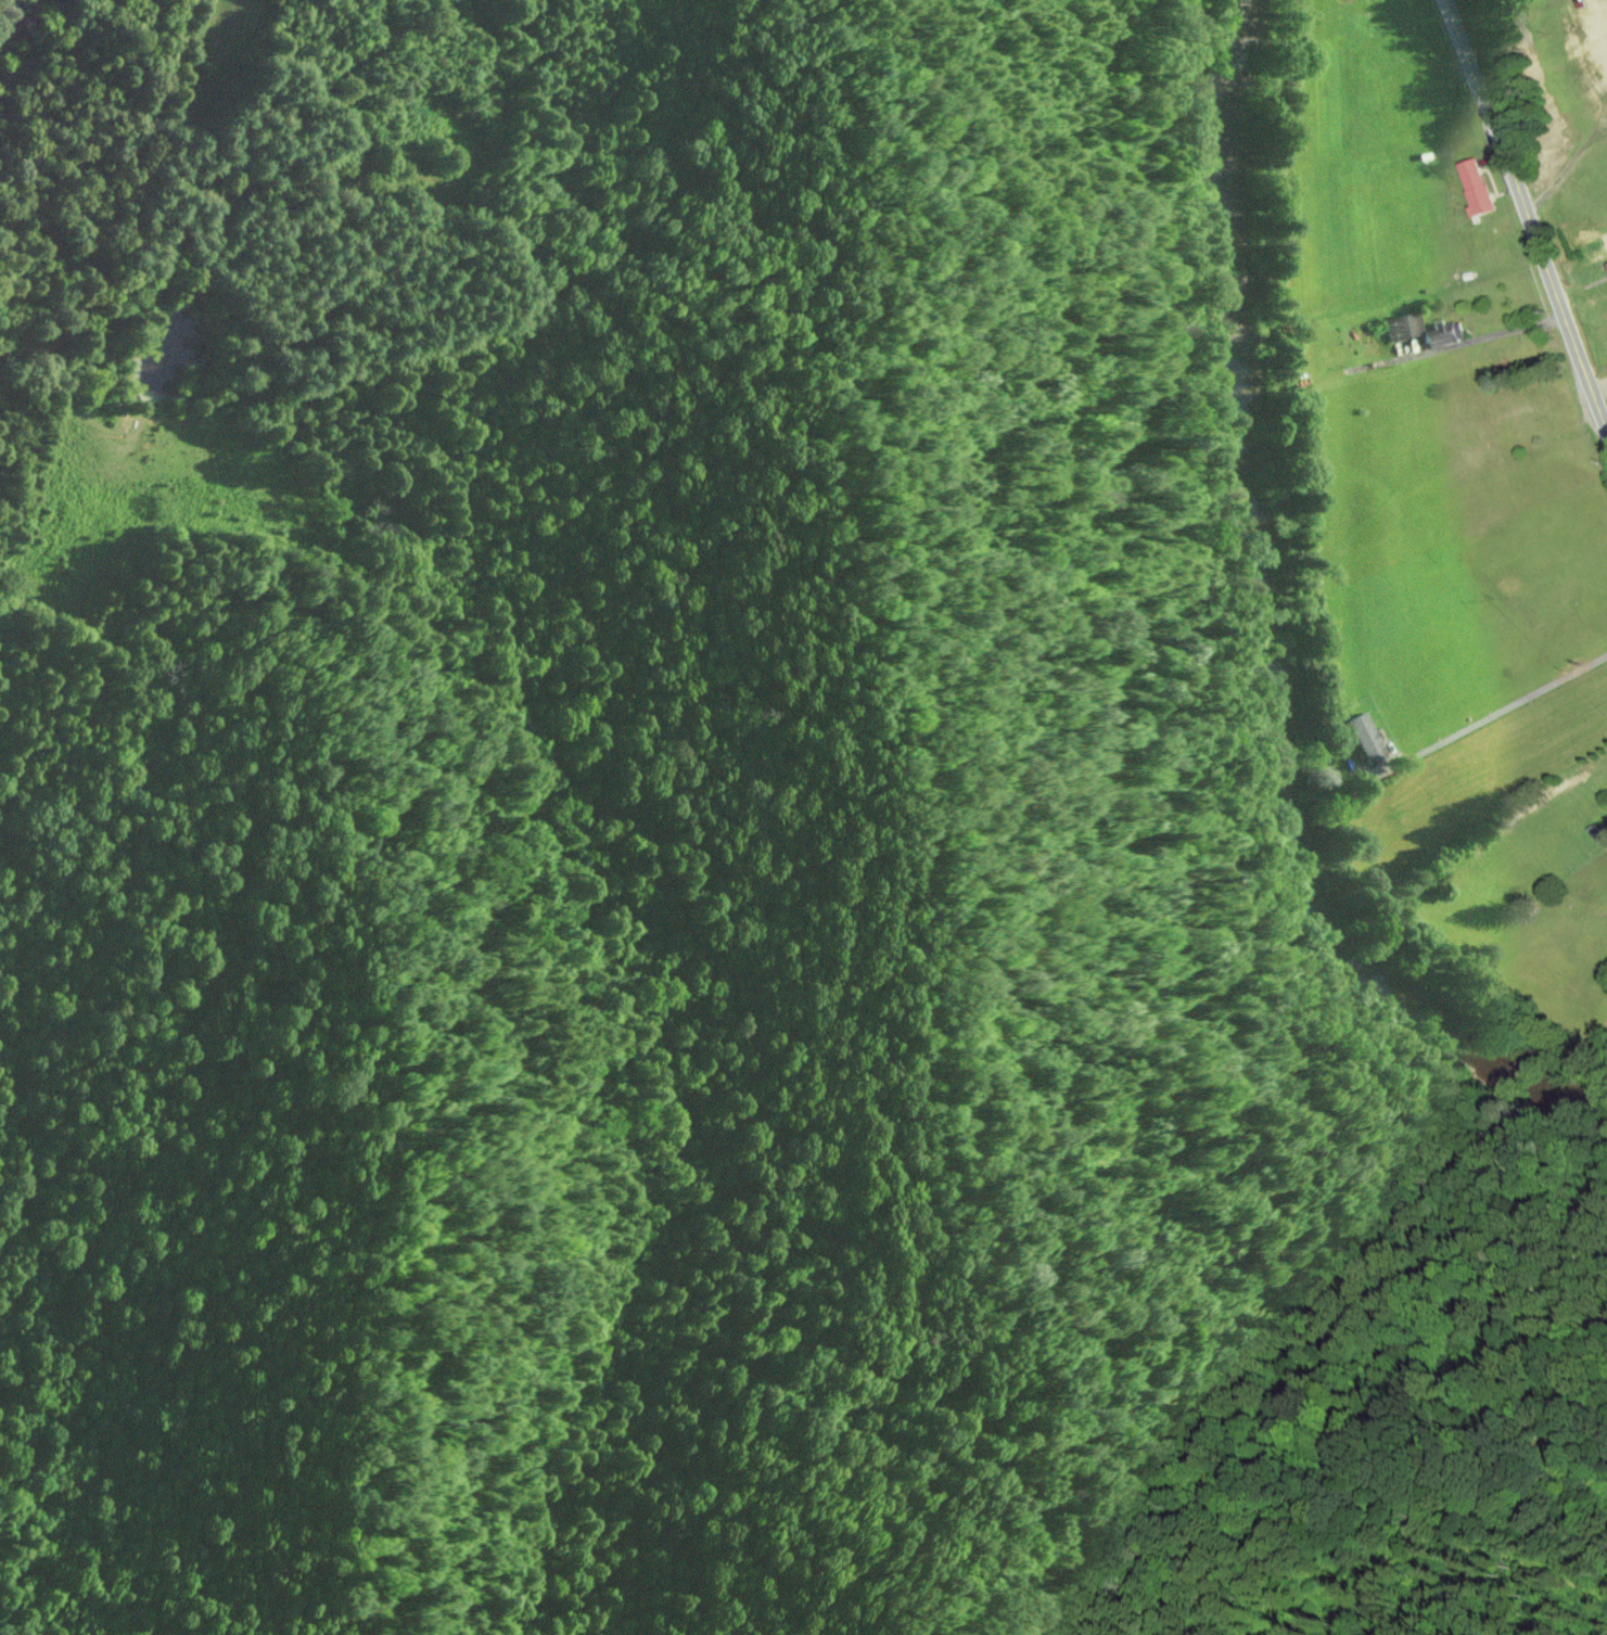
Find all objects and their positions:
river: (13, 23)
building: (1594, 65)
building: (1474, 189)
road: (1527, 215)
road: (87, 259)
building: (1606, 264)
building: (1423, 331)
building: (1538, 399)
river: (1266, 644)
building: (1367, 738)

